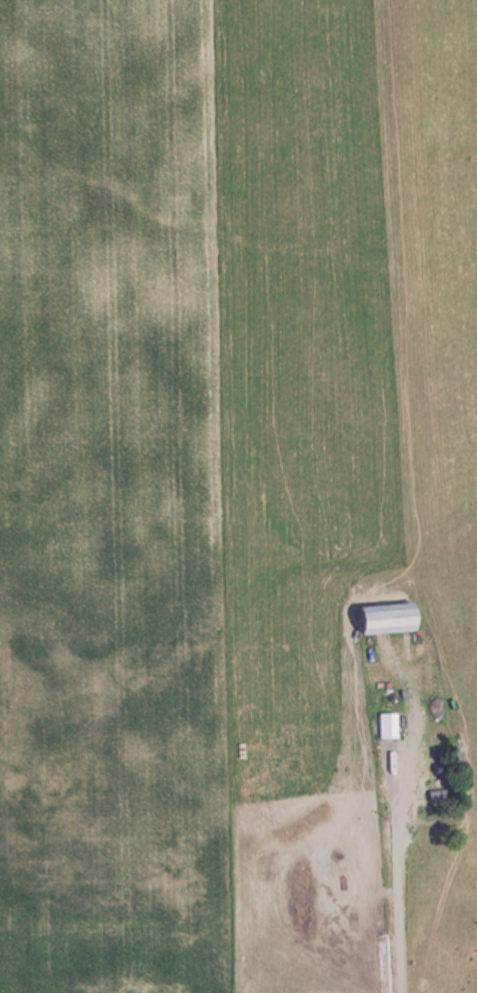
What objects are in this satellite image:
building: (388, 616)
building: (388, 724)
building: (418, 779)
road: (399, 878)

